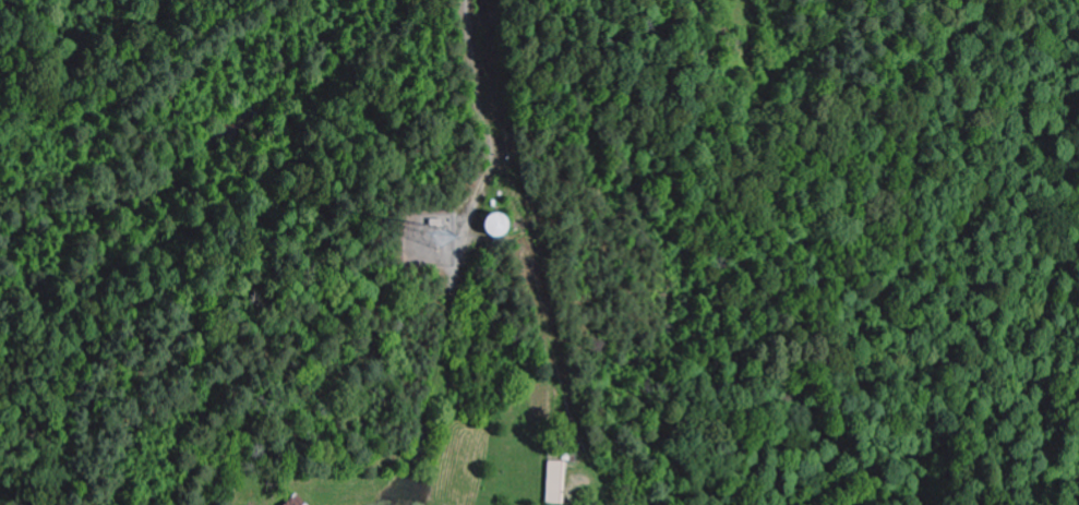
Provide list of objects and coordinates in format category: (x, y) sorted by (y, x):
building: (499, 227)
building: (556, 482)
building: (298, 501)

